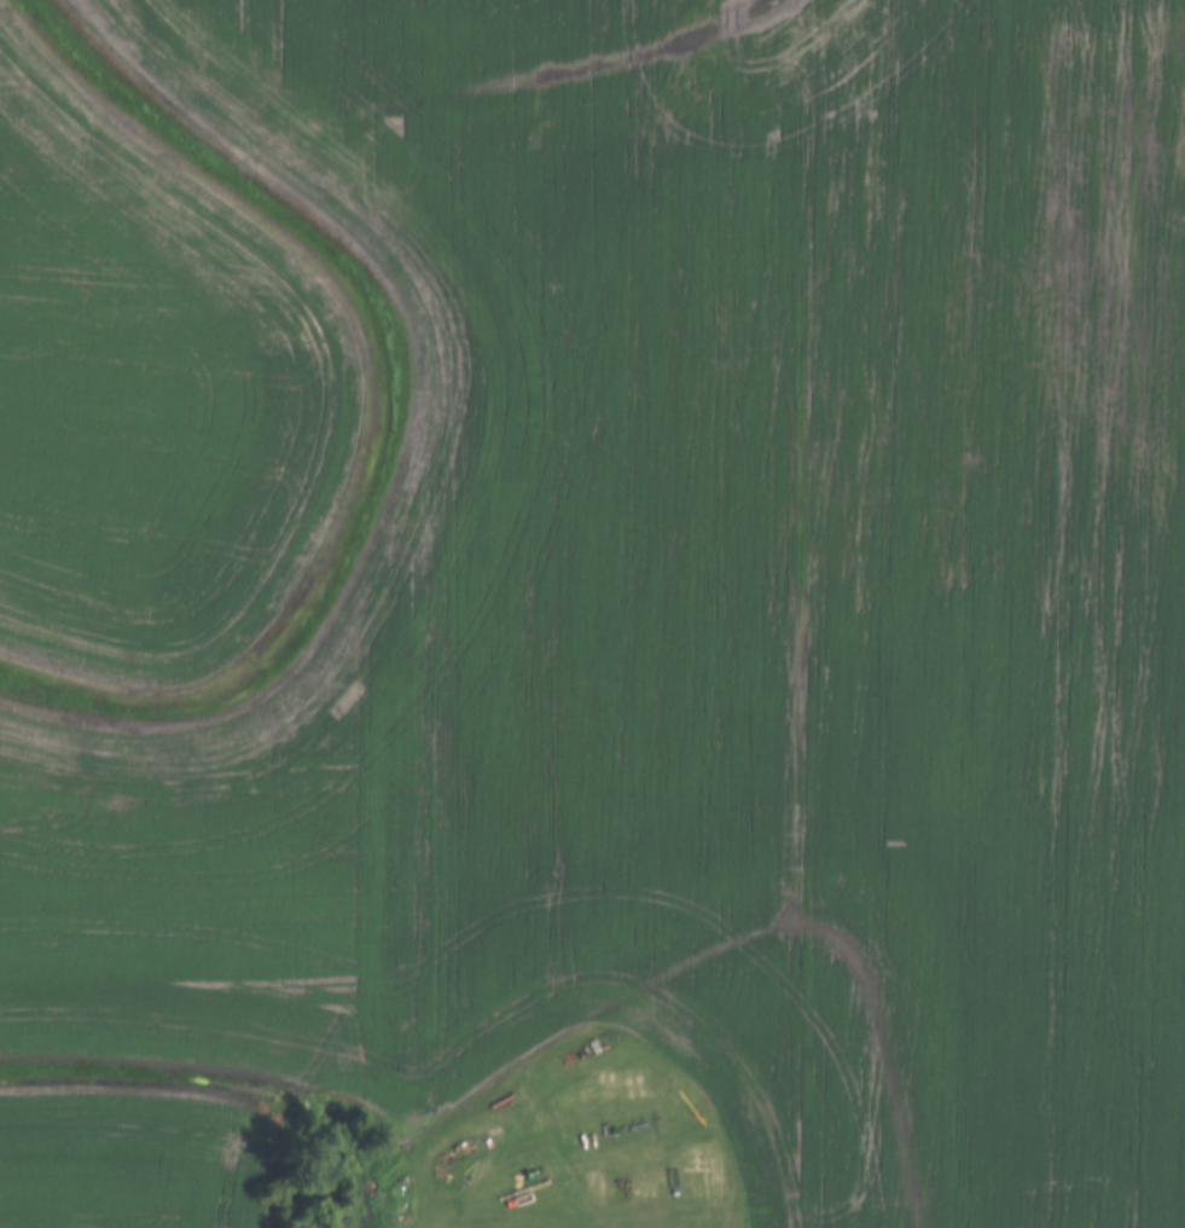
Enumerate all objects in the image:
crop: (147, 399)
crop: (709, 610)
road: (406, 1142)
crop: (122, 1153)
road: (696, 1172)
road: (478, 1210)

